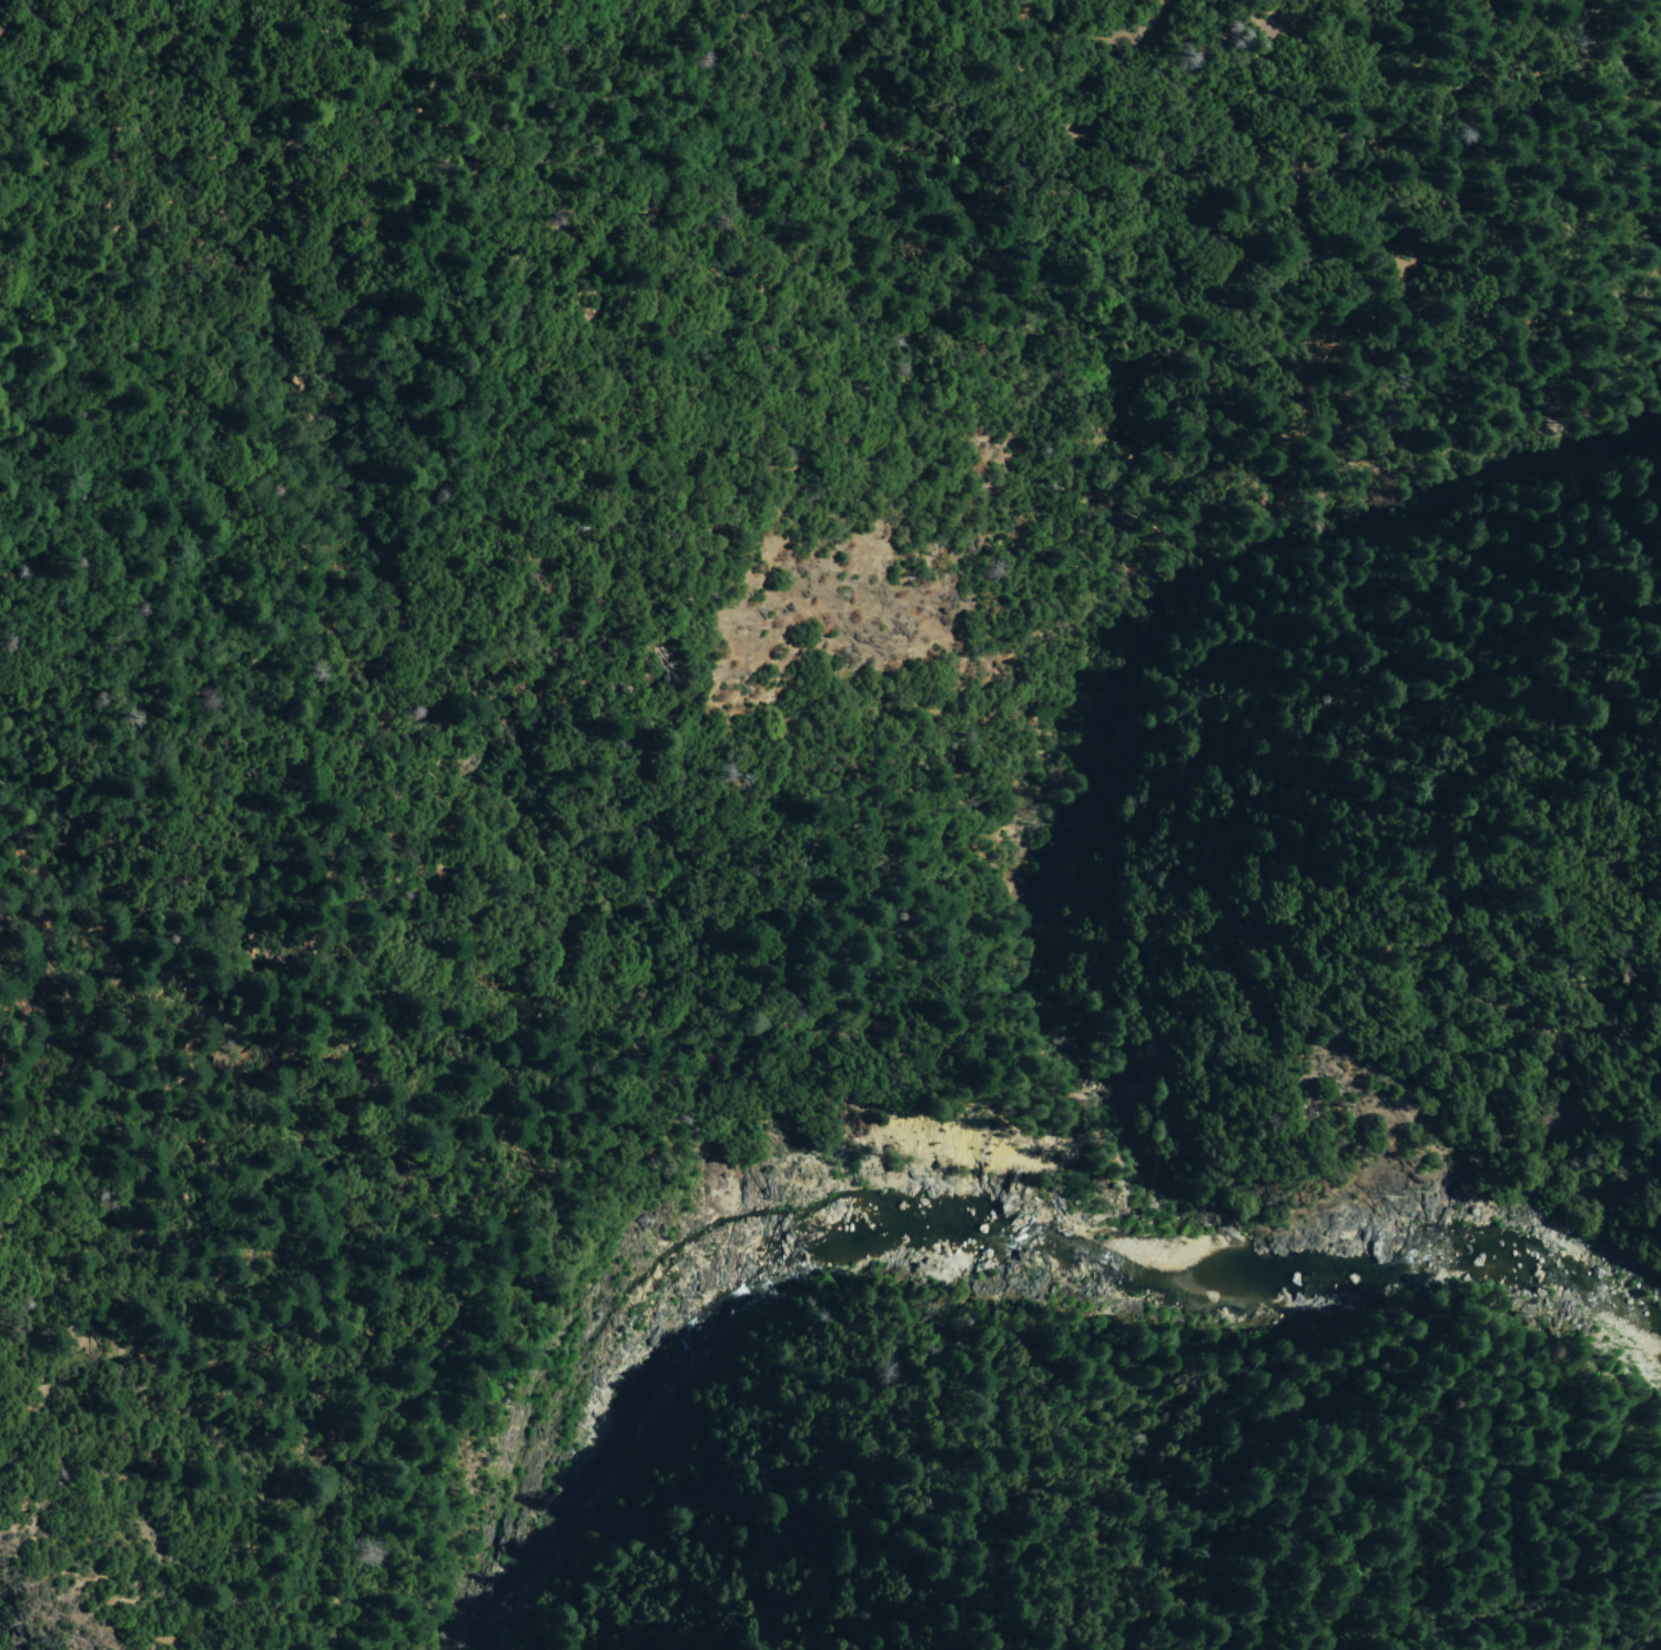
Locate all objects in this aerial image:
road: (1185, 470)
park: (1201, 617)
road: (851, 1059)
river: (935, 1233)
river: (1389, 1271)
river: (681, 1357)
river: (521, 1550)

